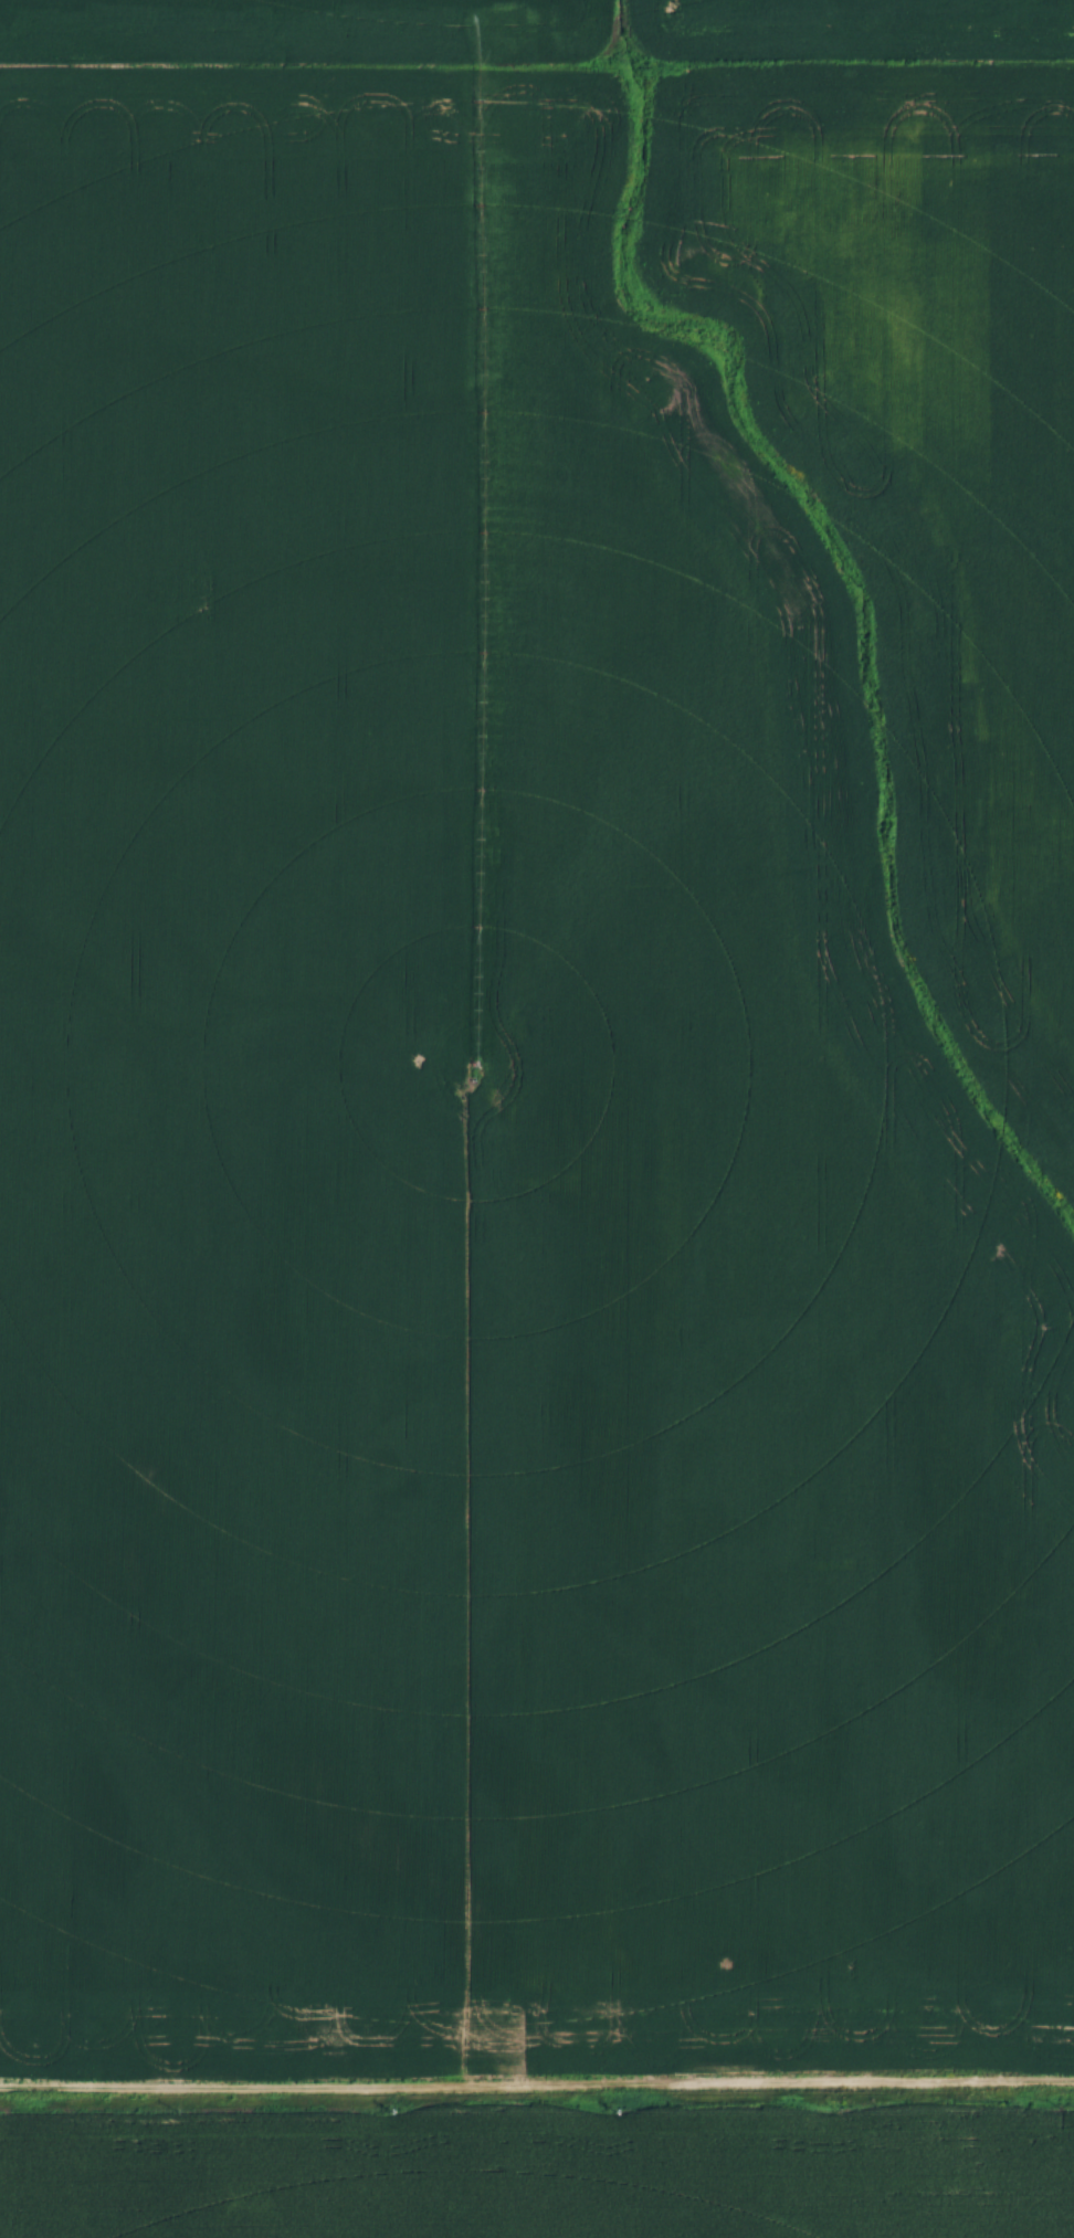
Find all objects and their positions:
road: (537, 2091)

